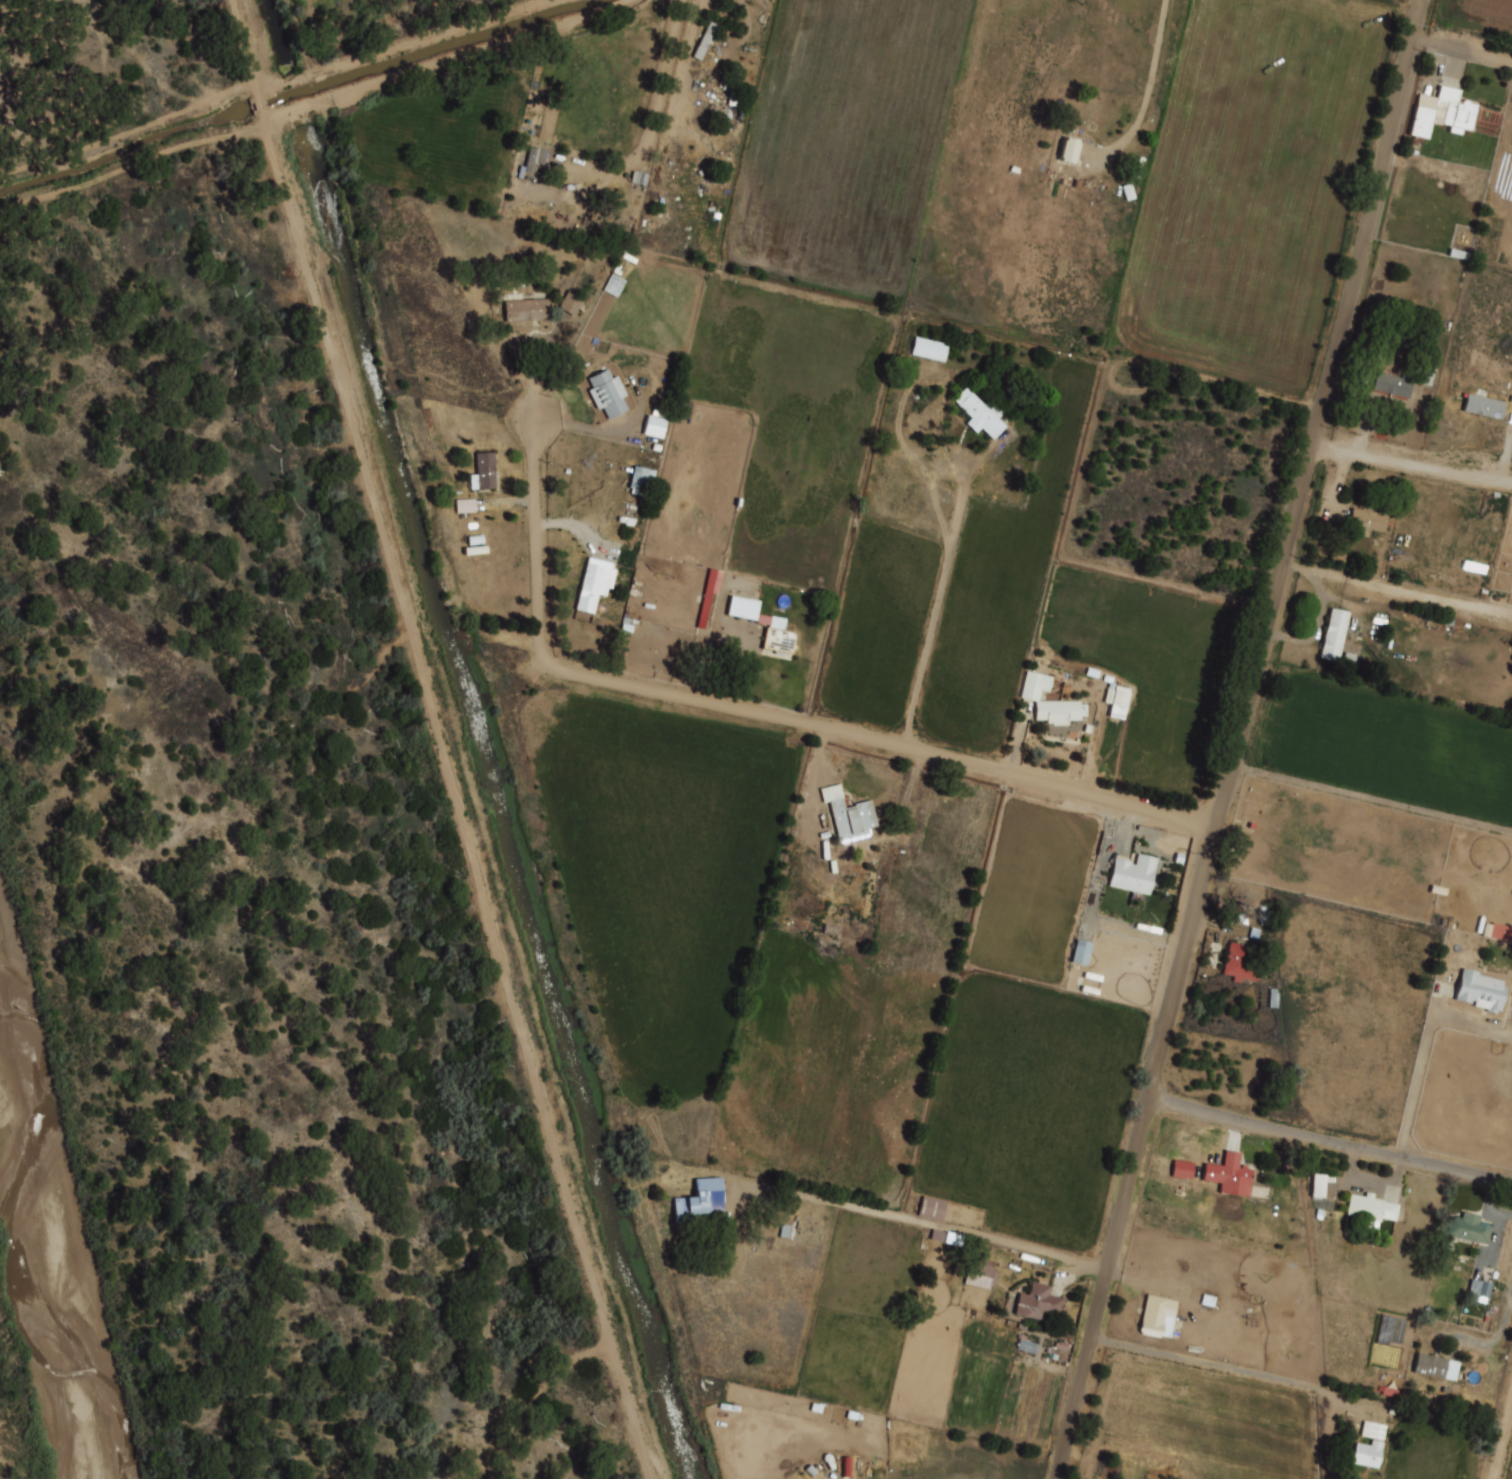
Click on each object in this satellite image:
road: (1462, 48)
road: (1159, 52)
road: (665, 72)
building: (1440, 113)
building: (1067, 150)
building: (534, 162)
building: (1457, 253)
building: (570, 302)
building: (529, 309)
building: (928, 349)
building: (1425, 376)
building: (1392, 385)
building: (610, 394)
building: (1483, 406)
building: (980, 413)
road: (1413, 462)
building: (486, 473)
building: (644, 481)
building: (464, 505)
building: (1365, 521)
building: (597, 583)
road: (1398, 590)
building: (707, 595)
building: (742, 607)
road: (936, 616)
building: (1333, 636)
building: (782, 637)
building: (1119, 696)
building: (1050, 703)
road: (764, 714)
road: (1243, 740)
road: (1374, 800)
building: (846, 815)
building: (910, 827)
building: (1131, 874)
building: (829, 929)
building: (1500, 932)
building: (1080, 952)
building: (1238, 963)
building: (1479, 990)
road: (1425, 1049)
road: (1330, 1142)
building: (1181, 1169)
building: (1229, 1174)
building: (1317, 1185)
building: (702, 1200)
building: (930, 1208)
building: (1372, 1209)
road: (932, 1221)
building: (1469, 1227)
river: (41, 1259)
building: (979, 1273)
building: (1478, 1289)
building: (1038, 1303)
building: (1156, 1315)
building: (1232, 1340)
building: (1435, 1366)
road: (1501, 1442)
building: (1367, 1454)

